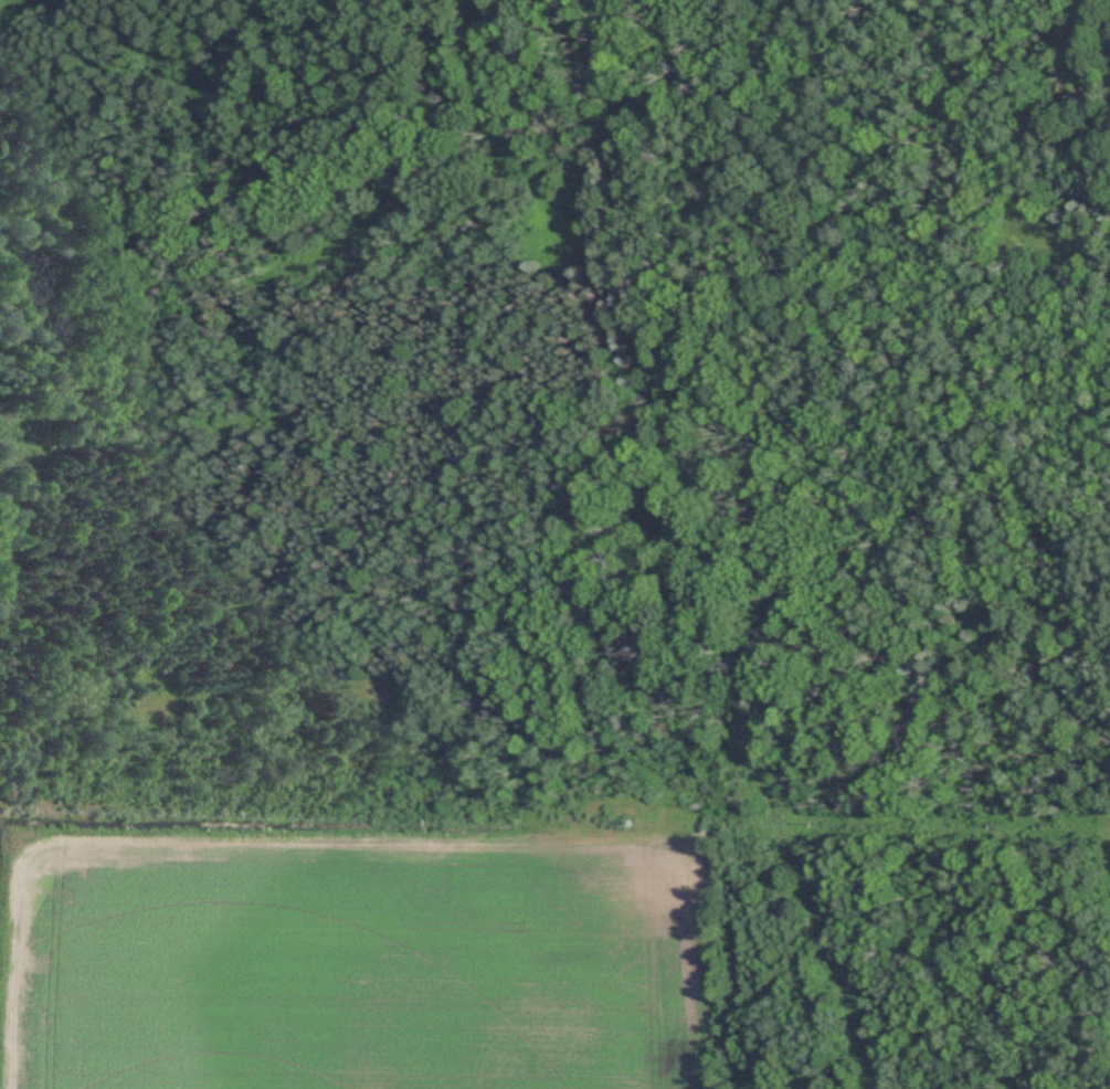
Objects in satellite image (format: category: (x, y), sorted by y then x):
crop: (356, 963)

